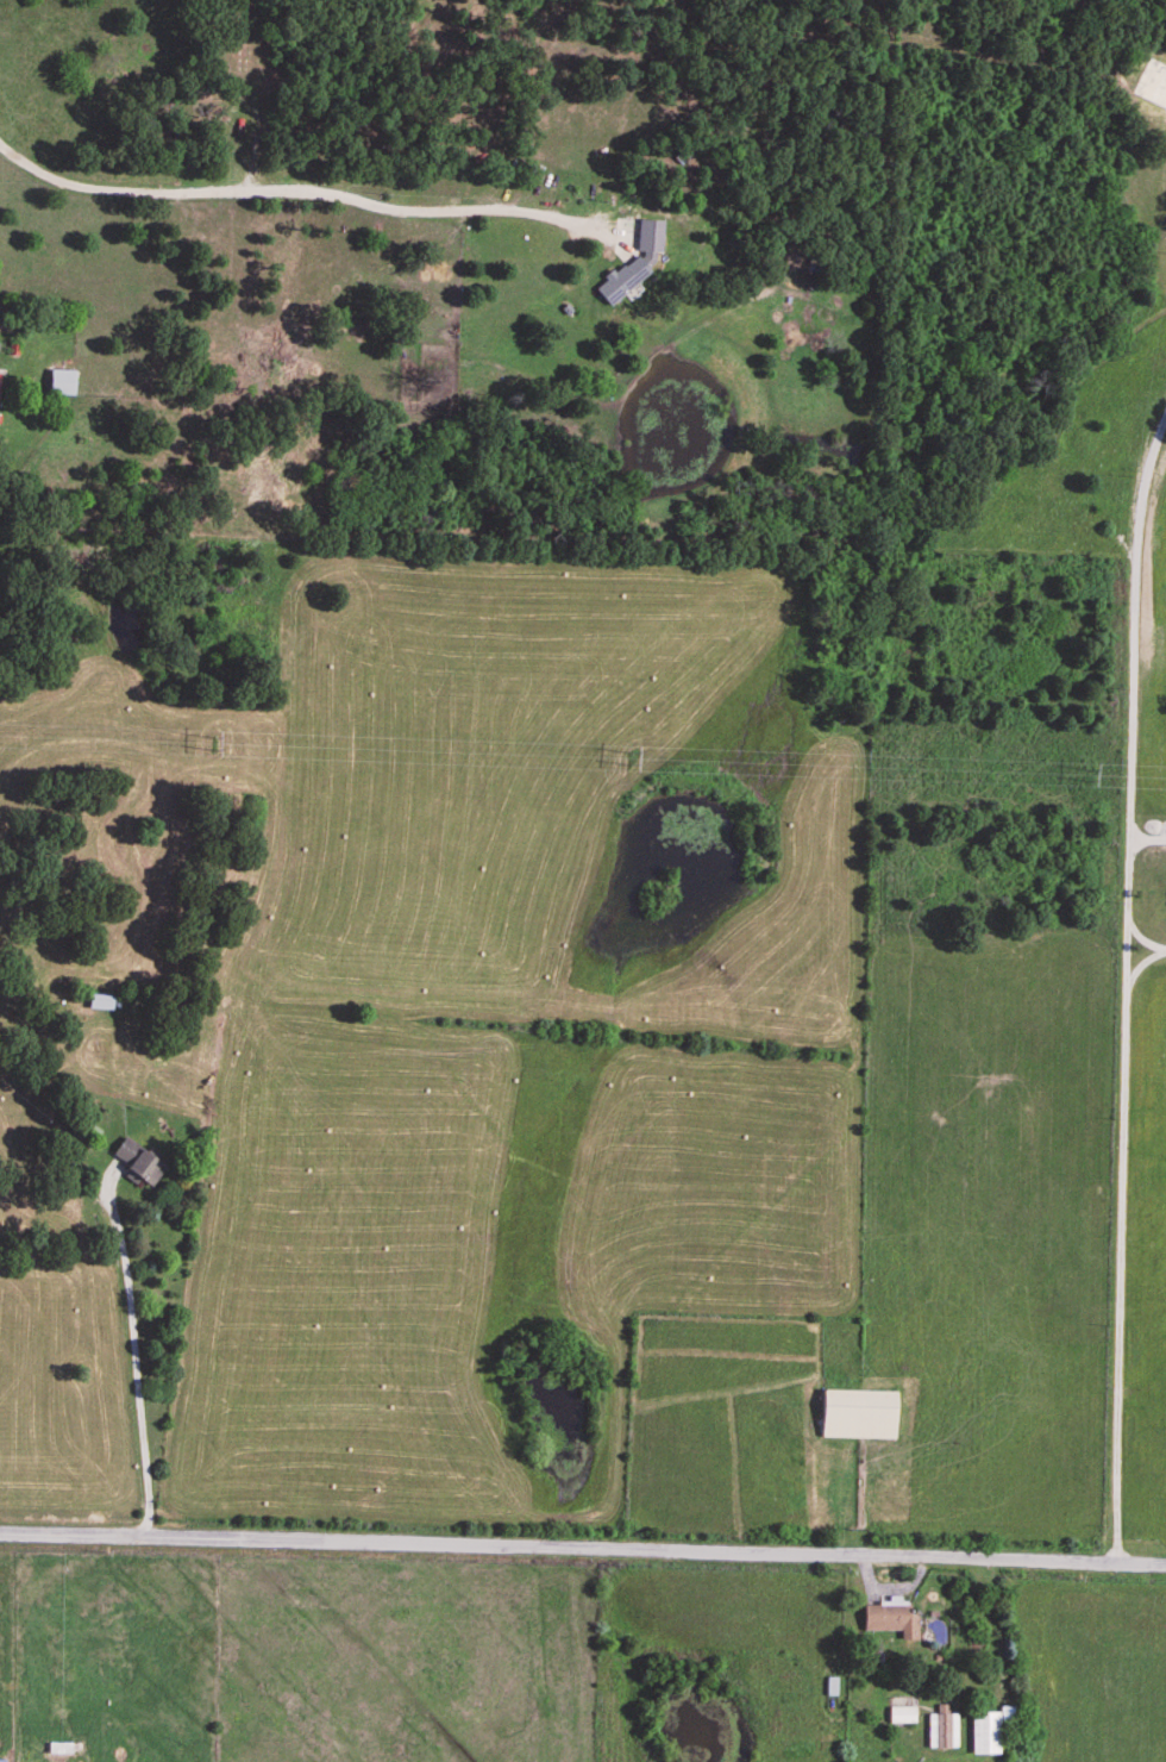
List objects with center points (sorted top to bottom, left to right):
road: (313, 194)
building: (653, 230)
building: (627, 275)
building: (65, 377)
building: (0, 383)
road: (1133, 693)
power tower: (212, 745)
power tower: (629, 761)
power tower: (1089, 779)
building: (105, 998)
building: (142, 1157)
road: (1121, 1245)
road: (133, 1361)
road: (583, 1545)

